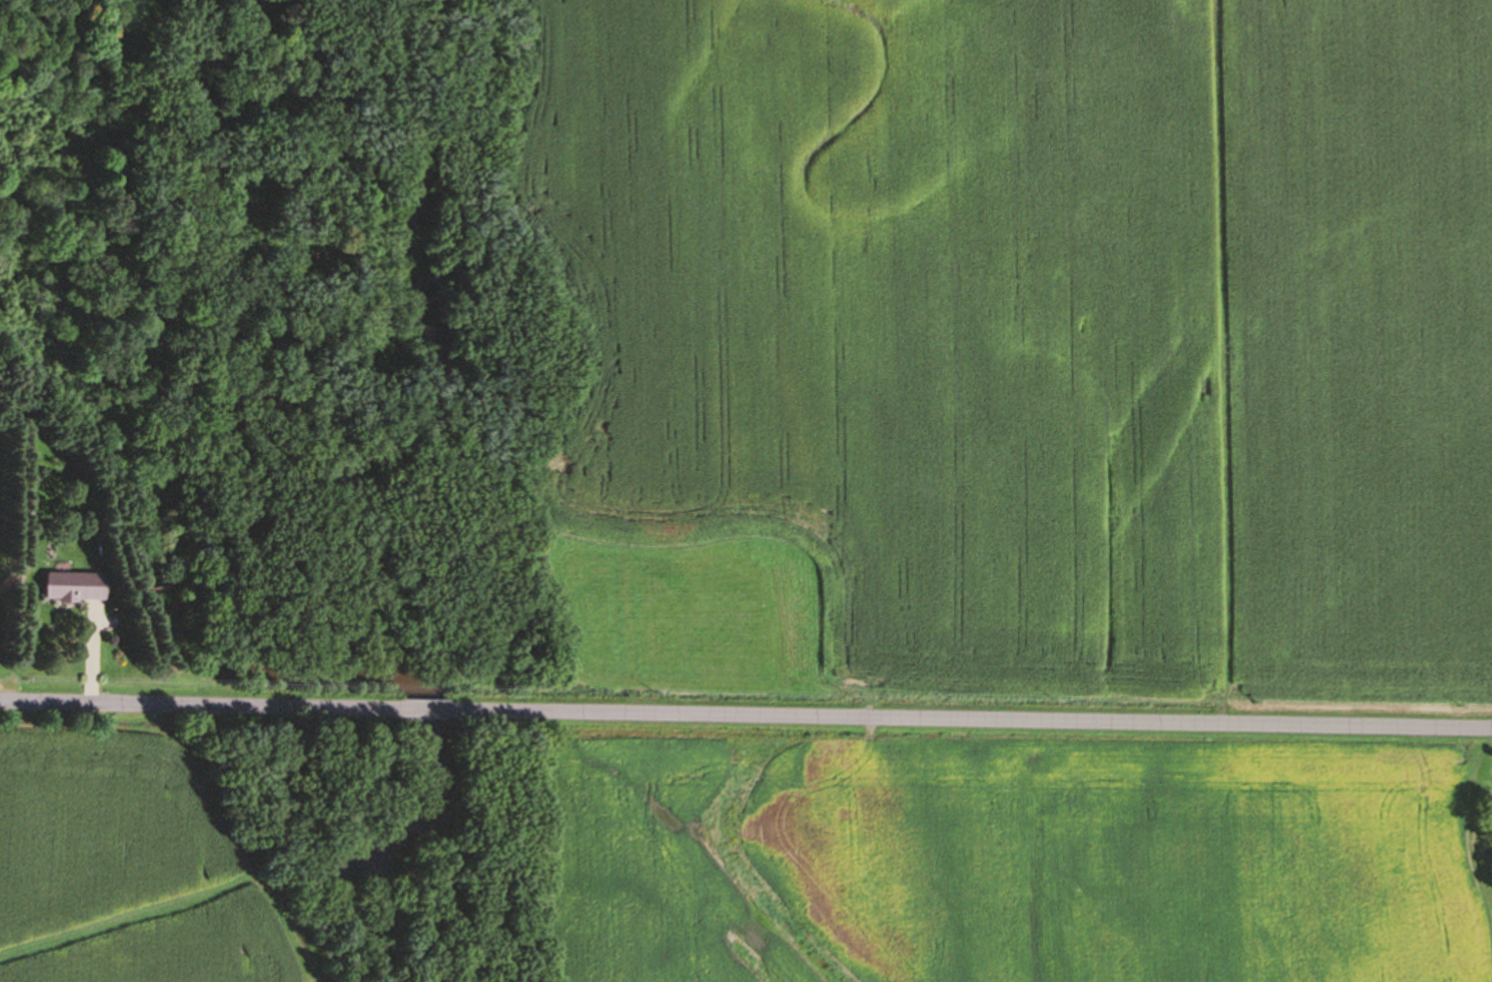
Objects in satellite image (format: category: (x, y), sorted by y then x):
building: (76, 586)
road: (200, 705)
road: (426, 710)
road: (972, 720)

